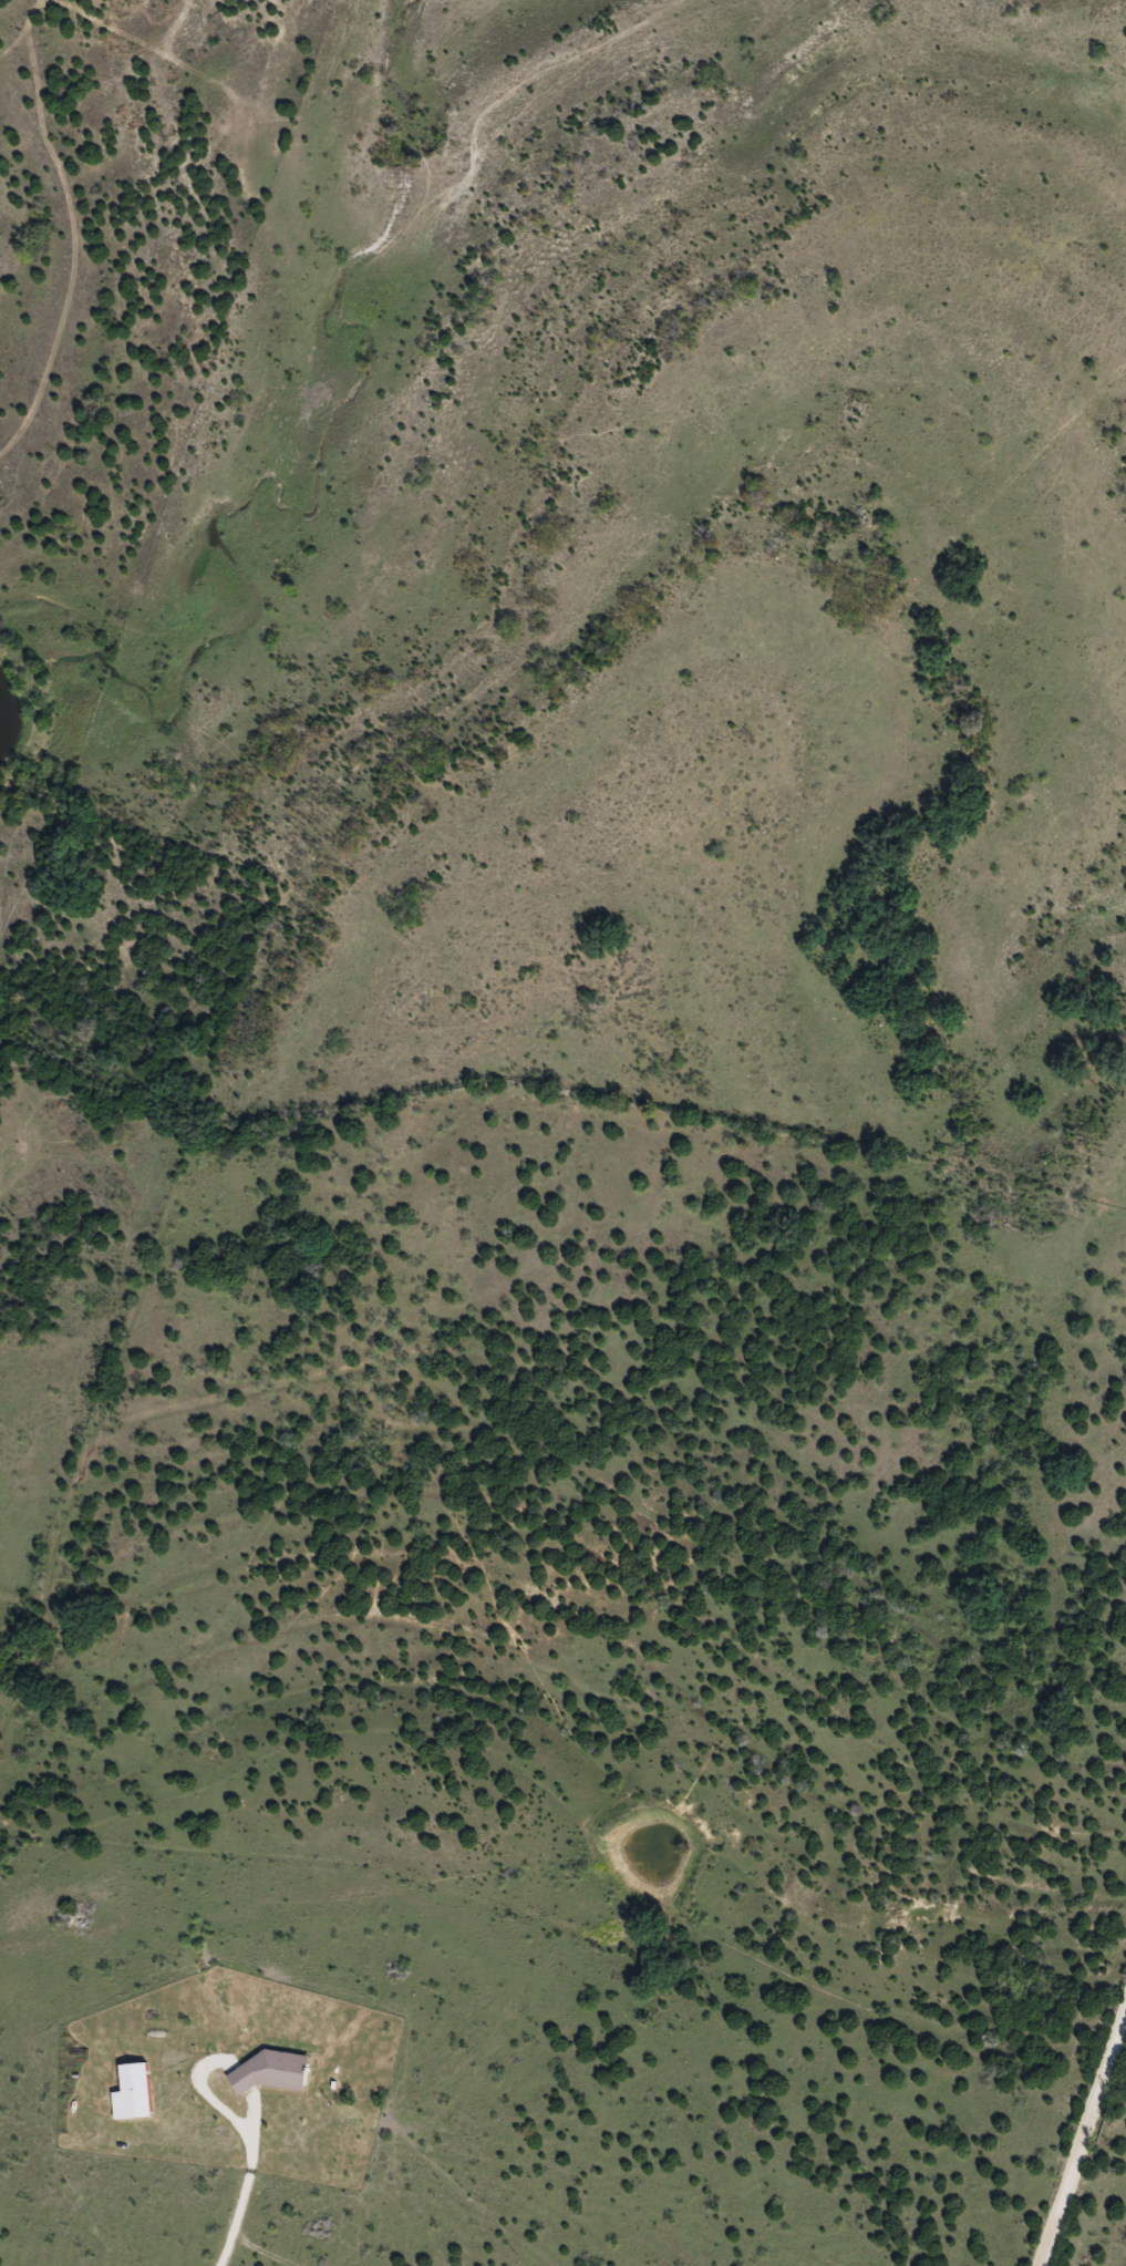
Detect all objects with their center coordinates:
building: (279, 2071)
building: (137, 2092)
road: (1082, 2141)

